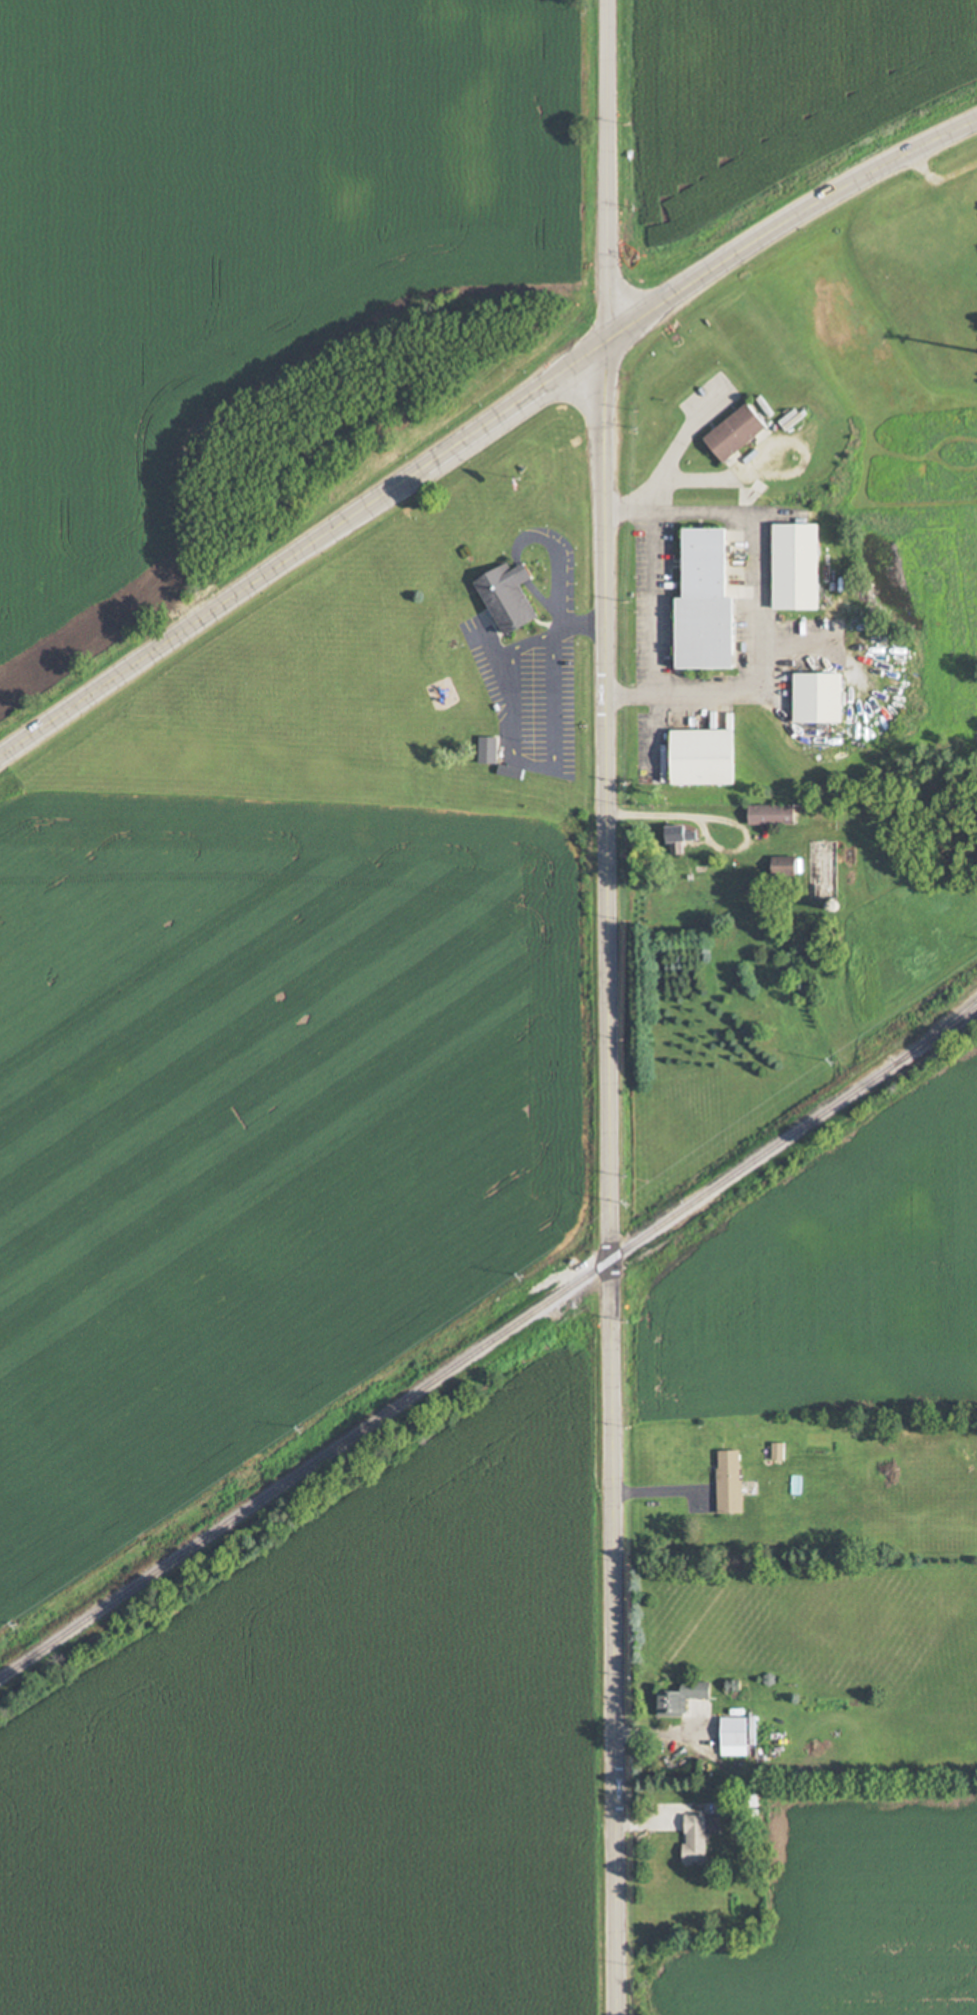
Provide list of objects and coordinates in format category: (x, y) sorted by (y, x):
road: (939, 177)
road: (479, 427)
building: (739, 432)
road: (663, 460)
building: (799, 568)
building: (511, 598)
building: (709, 604)
road: (654, 605)
road: (750, 605)
road: (579, 627)
building: (821, 698)
building: (488, 750)
building: (707, 757)
road: (520, 762)
building: (775, 814)
road: (669, 818)
building: (682, 837)
building: (786, 866)
road: (607, 1007)
railway: (936, 1030)
railway: (488, 1343)
building: (777, 1451)
building: (729, 1480)
building: (683, 1697)
building: (735, 1736)
building: (697, 1835)

